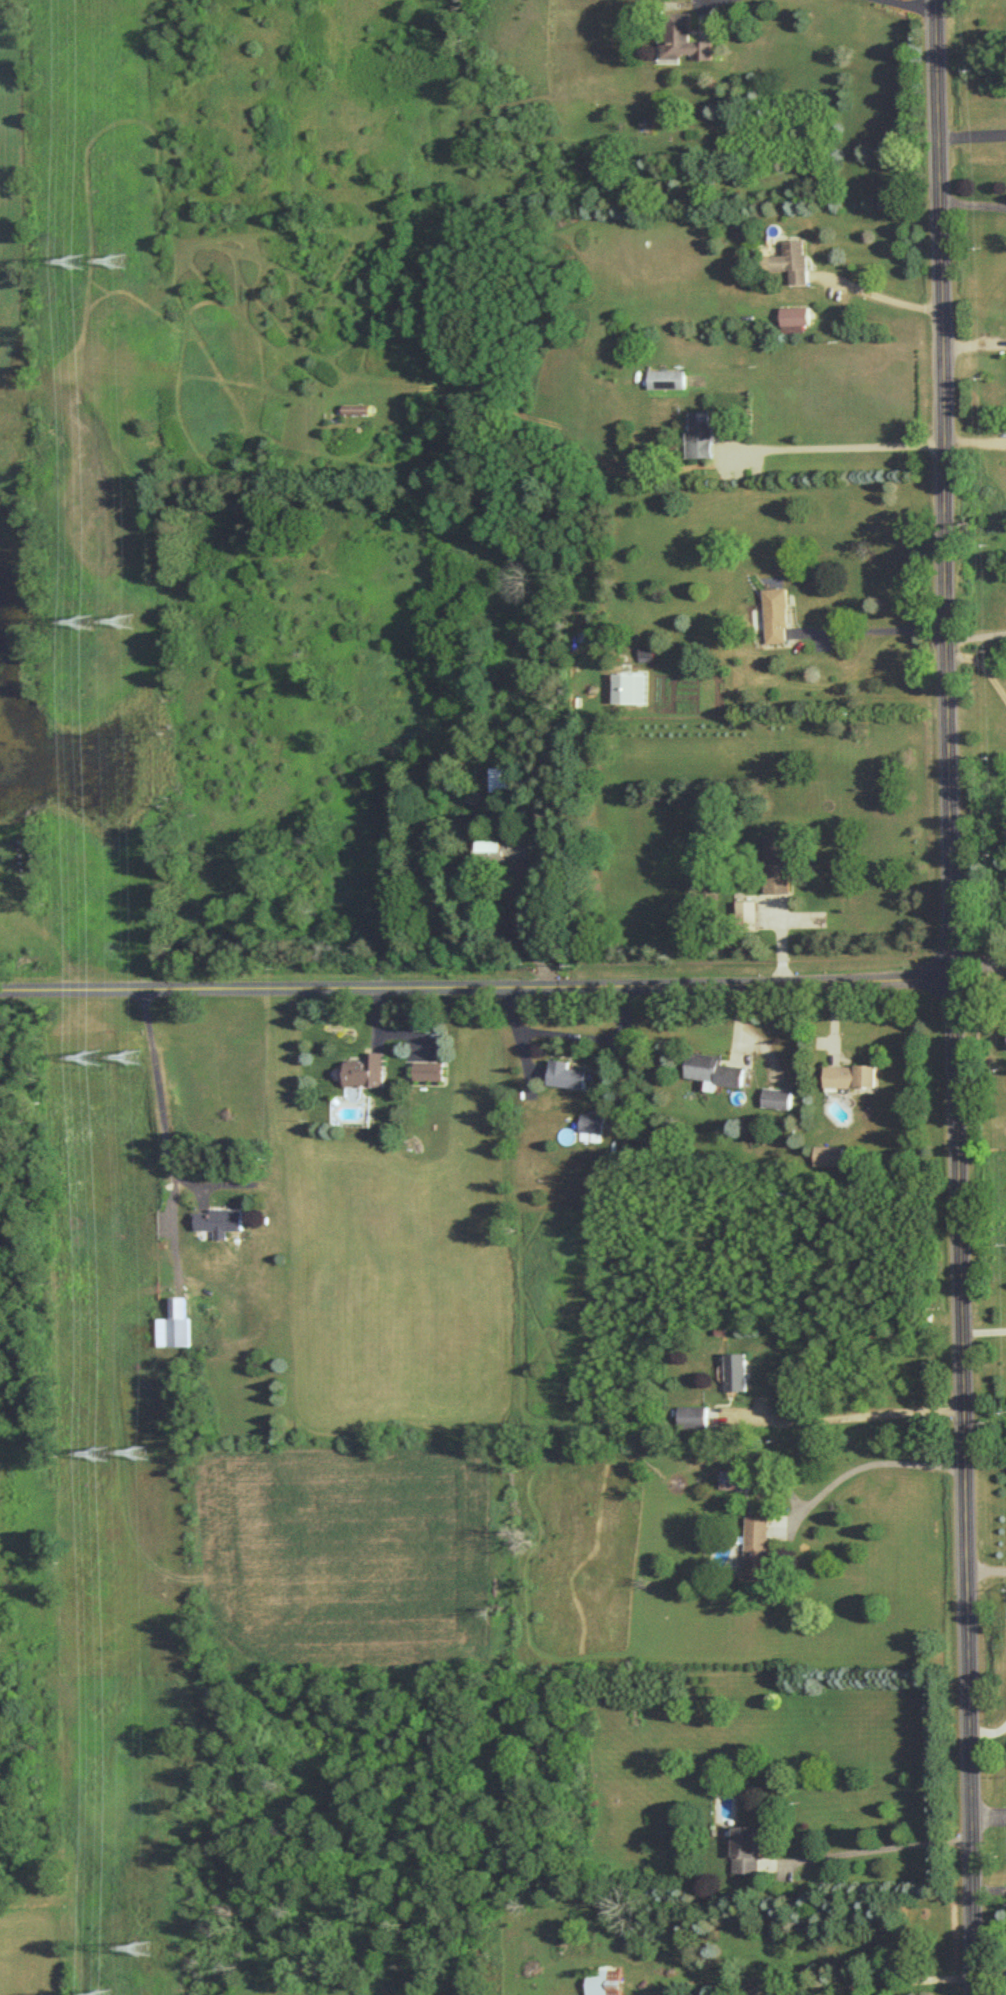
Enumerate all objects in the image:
road: (711, 3)
road: (911, 5)
building: (684, 39)
road: (973, 134)
road: (974, 200)
power tower: (123, 261)
building: (789, 261)
power tower: (79, 263)
road: (879, 296)
building: (794, 314)
building: (668, 378)
building: (357, 408)
building: (700, 435)
road: (844, 445)
building: (777, 614)
power tower: (127, 623)
power tower: (85, 624)
road: (872, 630)
road: (978, 636)
road: (984, 665)
building: (504, 778)
building: (506, 847)
building: (748, 911)
road: (514, 932)
road: (503, 987)
road: (956, 997)
road: (737, 1017)
road: (571, 1035)
power tower: (135, 1059)
power tower: (93, 1060)
building: (427, 1069)
building: (366, 1070)
building: (713, 1070)
building: (566, 1074)
building: (850, 1075)
building: (777, 1098)
road: (161, 1105)
building: (590, 1127)
building: (828, 1155)
building: (221, 1221)
building: (172, 1323)
road: (984, 1331)
building: (736, 1371)
building: (694, 1416)
road: (845, 1417)
power tower: (141, 1455)
power tower: (100, 1456)
road: (865, 1465)
building: (735, 1479)
road: (986, 1570)
road: (989, 1733)
road: (989, 1814)
road: (879, 1848)
building: (747, 1849)
road: (990, 1888)
power tower: (151, 1951)
road: (990, 1974)
building: (604, 1980)
road: (881, 1981)

